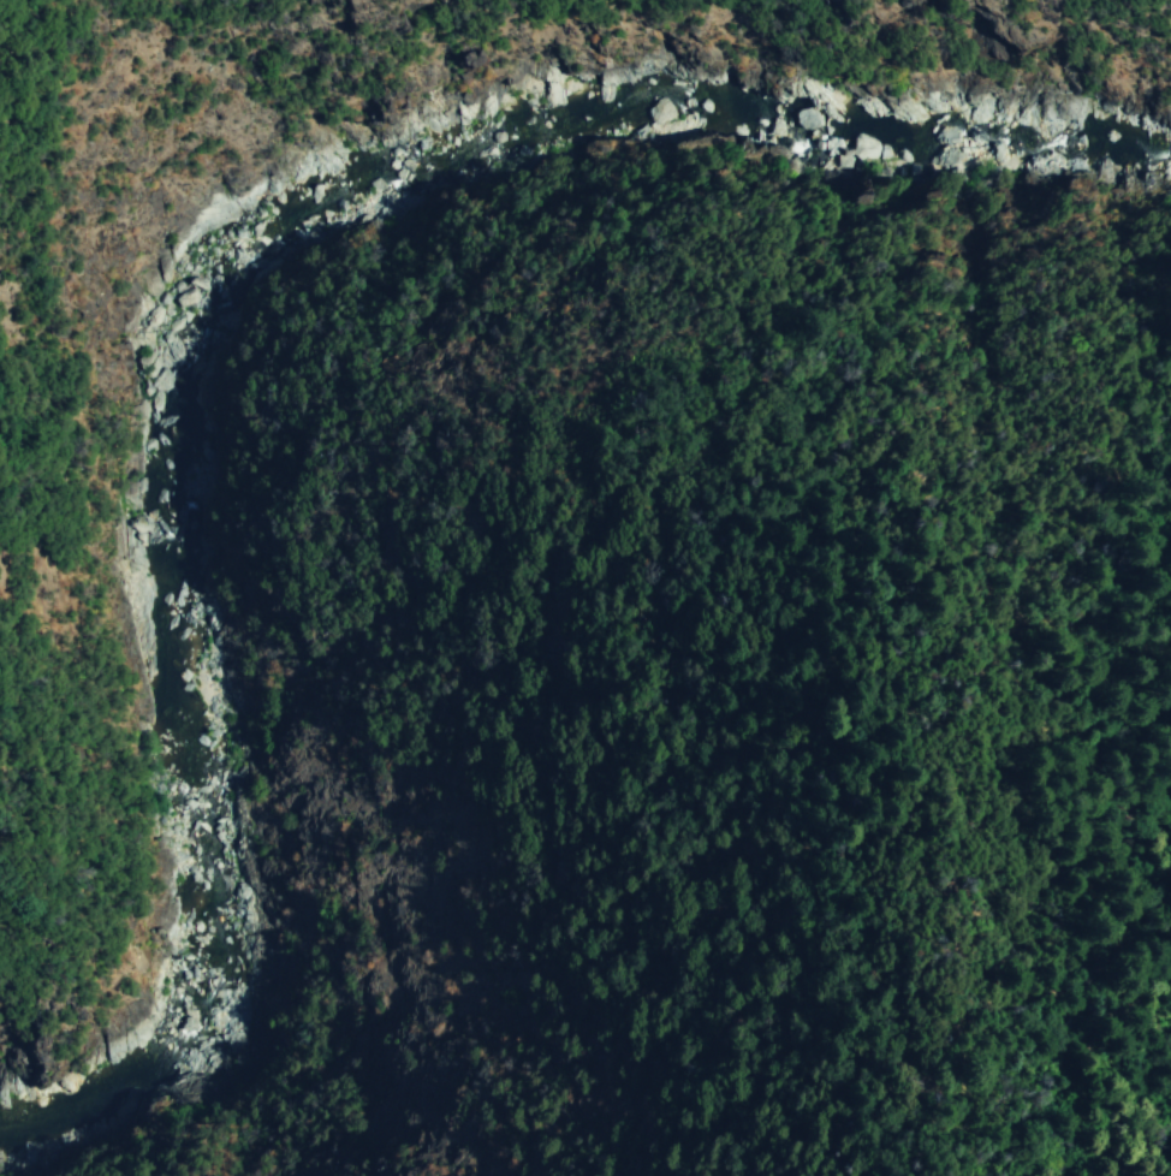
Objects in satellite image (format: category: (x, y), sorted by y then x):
river: (224, 268)

